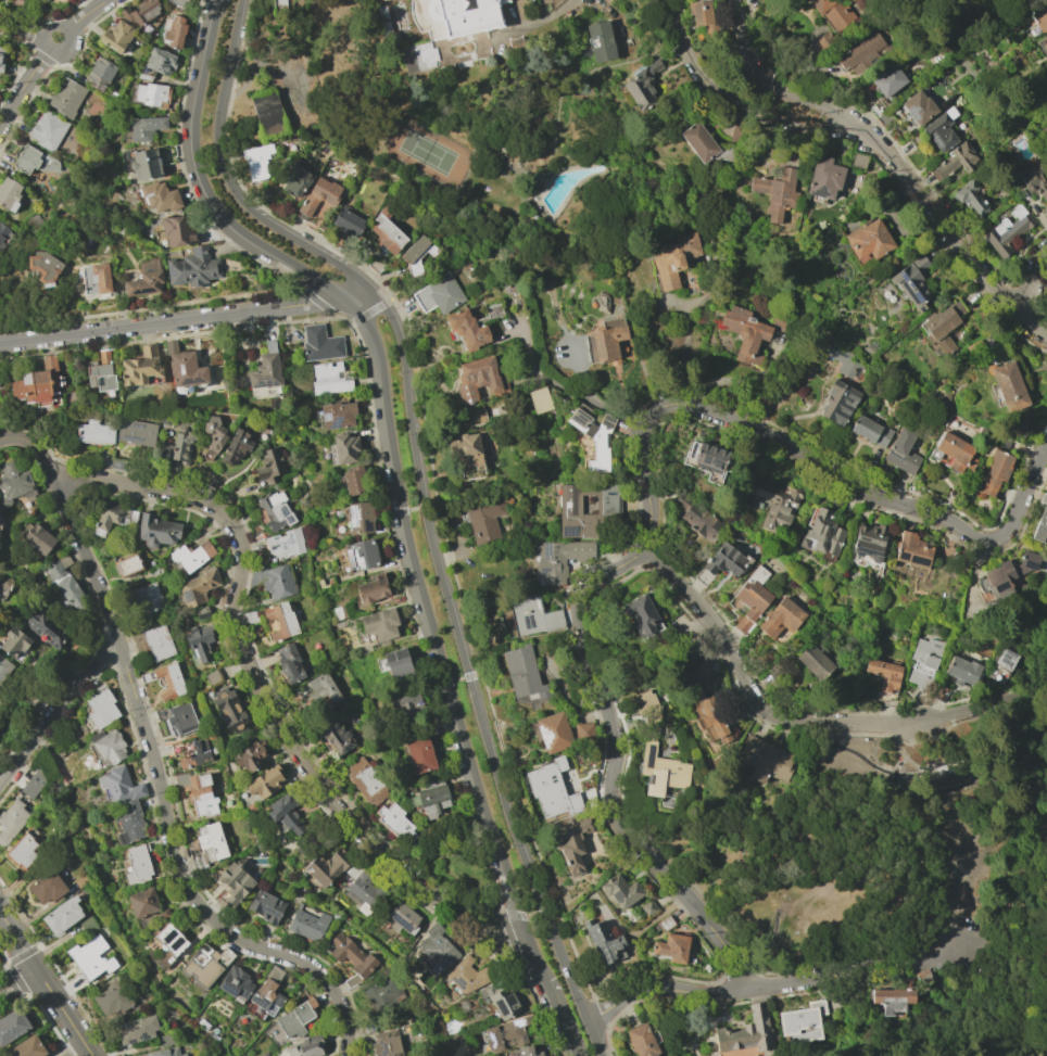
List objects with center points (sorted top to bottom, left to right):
building: (21, 0)
building: (47, 0)
building: (289, 1)
building: (178, 4)
building: (279, 7)
building: (141, 11)
building: (833, 11)
road: (87, 14)
building: (467, 15)
building: (703, 16)
building: (1040, 16)
road: (54, 26)
road: (23, 30)
building: (174, 33)
building: (115, 36)
building: (1045, 38)
building: (600, 41)
building: (825, 42)
building: (858, 51)
building: (1, 54)
building: (418, 58)
building: (159, 61)
road: (252, 72)
building: (100, 73)
building: (888, 80)
building: (642, 85)
road: (23, 87)
road: (783, 89)
building: (149, 94)
building: (66, 97)
road: (735, 104)
building: (918, 106)
building: (266, 112)
building: (144, 127)
building: (941, 129)
building: (48, 130)
building: (703, 144)
park: (429, 151)
building: (34, 161)
building: (859, 161)
building: (955, 161)
building: (257, 162)
building: (144, 164)
building: (823, 178)
building: (293, 179)
building: (1035, 183)
building: (777, 192)
building: (9, 193)
building: (318, 195)
building: (159, 196)
building: (970, 196)
building: (348, 222)
building: (177, 230)
building: (1008, 230)
building: (2, 231)
building: (386, 231)
building: (868, 240)
road: (932, 241)
road: (956, 242)
building: (1, 244)
building: (416, 254)
building: (673, 259)
building: (43, 266)
building: (192, 267)
building: (94, 278)
building: (146, 278)
road: (1033, 280)
building: (912, 282)
road: (355, 291)
building: (439, 294)
road: (173, 321)
road: (811, 326)
building: (942, 326)
building: (466, 329)
building: (753, 330)
building: (605, 340)
building: (320, 343)
building: (844, 359)
building: (184, 366)
building: (140, 367)
building: (265, 368)
building: (101, 372)
building: (329, 378)
building: (479, 378)
building: (38, 384)
building: (1007, 385)
building: (539, 399)
building: (837, 403)
building: (337, 414)
building: (478, 417)
building: (165, 419)
building: (870, 431)
building: (93, 432)
building: (136, 432)
building: (593, 435)
building: (212, 436)
building: (236, 446)
road: (392, 446)
building: (344, 448)
building: (180, 449)
building: (901, 450)
building: (955, 451)
building: (465, 454)
building: (706, 459)
building: (270, 463)
building: (995, 472)
road: (602, 473)
building: (354, 480)
building: (12, 482)
road: (497, 486)
building: (29, 493)
road: (649, 497)
road: (422, 498)
building: (1044, 498)
building: (775, 504)
building: (586, 508)
building: (275, 511)
building: (111, 517)
building: (359, 517)
building: (698, 518)
building: (483, 520)
building: (1040, 527)
building: (156, 531)
building: (821, 534)
building: (39, 538)
building: (285, 544)
building: (868, 545)
building: (910, 554)
building: (190, 555)
building: (361, 555)
building: (558, 559)
building: (726, 560)
building: (127, 564)
building: (58, 567)
building: (155, 572)
building: (1008, 573)
building: (277, 582)
building: (198, 587)
building: (371, 588)
building: (70, 590)
building: (146, 597)
building: (752, 597)
building: (201, 612)
building: (640, 614)
building: (533, 616)
building: (250, 618)
building: (780, 618)
building: (280, 620)
building: (380, 625)
building: (47, 628)
building: (199, 640)
building: (157, 642)
building: (14, 644)
building: (813, 661)
building: (289, 662)
building: (923, 662)
building: (394, 663)
building: (1001, 665)
building: (3, 667)
road: (251, 670)
building: (962, 671)
building: (523, 673)
building: (884, 673)
building: (213, 677)
building: (165, 680)
building: (323, 688)
building: (643, 701)
building: (408, 704)
building: (101, 707)
building: (229, 710)
road: (56, 711)
building: (180, 718)
building: (714, 720)
road: (805, 721)
road: (1039, 721)
building: (553, 730)
building: (583, 731)
building: (337, 736)
road: (1026, 736)
road: (1036, 737)
road: (1011, 742)
building: (108, 746)
road: (901, 751)
building: (195, 754)
building: (420, 754)
building: (250, 755)
building: (765, 760)
road: (921, 764)
road: (970, 765)
building: (660, 771)
road: (886, 777)
building: (265, 781)
building: (366, 781)
road: (1006, 781)
road: (1024, 781)
building: (34, 783)
building: (121, 785)
road: (991, 788)
building: (551, 789)
building: (198, 791)
road: (937, 797)
building: (431, 798)
road: (163, 799)
road: (963, 801)
road: (1036, 801)
road: (894, 802)
building: (286, 811)
road: (815, 812)
road: (1037, 812)
building: (11, 820)
building: (128, 822)
building: (394, 823)
road: (921, 843)
building: (209, 844)
building: (573, 844)
road: (891, 844)
building: (23, 849)
road: (935, 849)
road: (1044, 850)
park: (897, 857)
road: (950, 861)
building: (138, 864)
park: (457, 865)
building: (326, 866)
building: (236, 881)
building: (46, 887)
building: (363, 890)
building: (619, 890)
road: (1033, 900)
building: (144, 906)
building: (266, 906)
building: (647, 907)
road: (954, 907)
building: (61, 916)
building: (403, 917)
building: (665, 923)
building: (307, 925)
building: (88, 926)
road: (781, 927)
road: (1013, 936)
building: (169, 939)
road: (18, 940)
building: (604, 941)
parking lot: (961, 942)
building: (438, 946)
road: (945, 946)
building: (671, 947)
building: (225, 956)
building: (91, 957)
building: (351, 957)
road: (983, 962)
road: (893, 965)
road: (849, 966)
building: (201, 967)
building: (467, 975)
building: (923, 978)
road: (17, 980)
building: (235, 982)
road: (782, 983)
road: (659, 985)
building: (267, 993)
building: (382, 993)
road: (556, 997)
building: (893, 997)
building: (115, 998)
building: (500, 1000)
road: (984, 1009)
road: (65, 1013)
building: (295, 1018)
building: (803, 1021)
building: (12, 1026)
building: (367, 1027)
building: (137, 1029)
building: (747, 1032)
building: (506, 1033)
building: (166, 1038)
building: (641, 1040)
building: (386, 1044)
road: (578, 1046)
building: (28, 1047)
building: (305, 1047)
building: (527, 1051)
building: (166, 1053)

